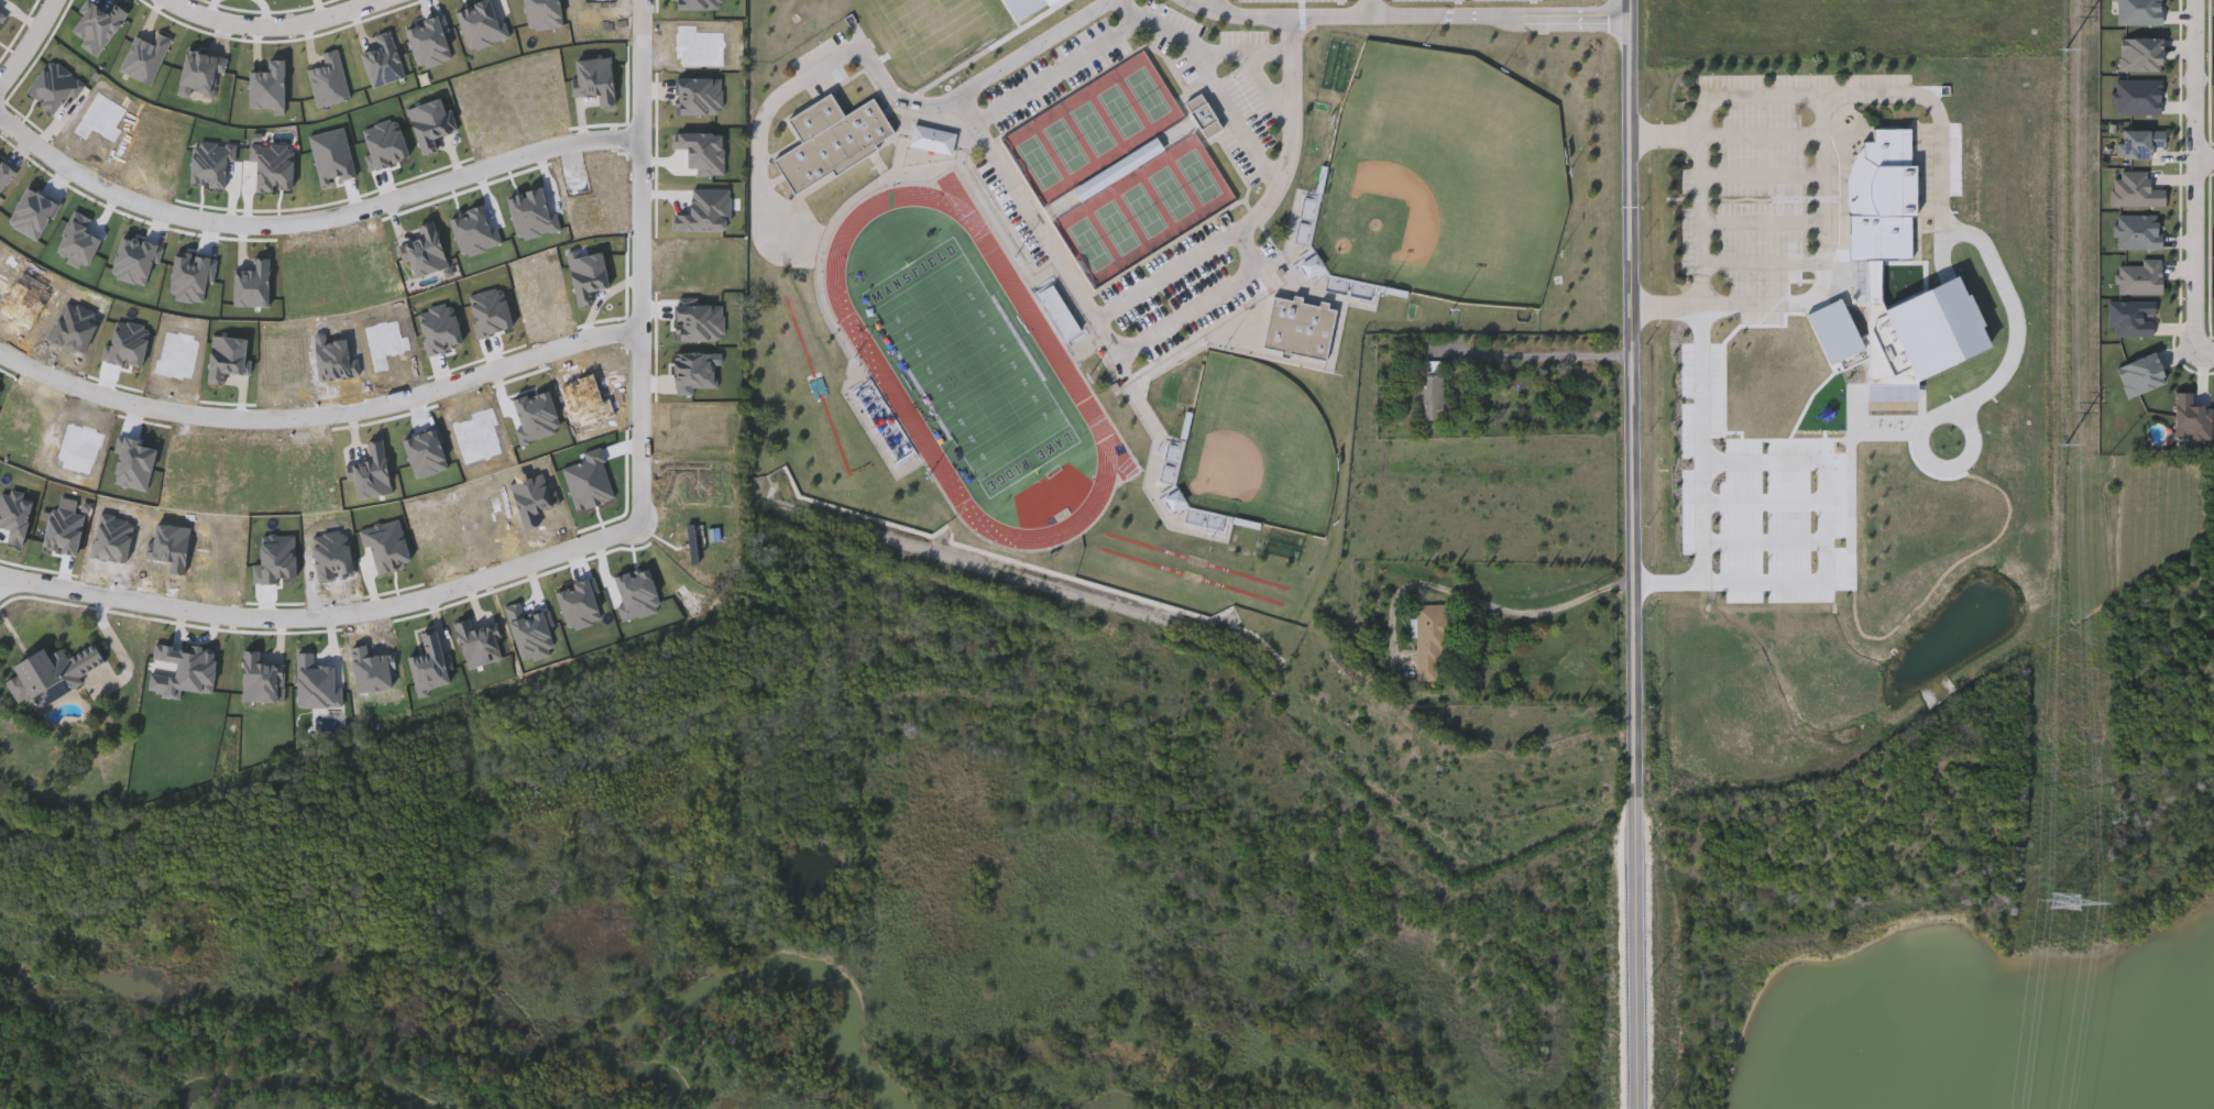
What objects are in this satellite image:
road: (1210, 6)
road: (1372, 8)
road: (1406, 15)
road: (275, 28)
road: (1203, 44)
road: (31, 45)
power tower: (2068, 48)
road: (1064, 70)
road: (878, 73)
road: (1270, 90)
park: (1148, 94)
park: (1120, 110)
road: (1235, 114)
building: (822, 125)
park: (1094, 127)
road: (1764, 136)
park: (1066, 143)
road: (2204, 154)
park: (1039, 161)
road: (2195, 173)
road: (1826, 174)
park: (1198, 175)
road: (1764, 176)
park: (1444, 178)
building: (1886, 183)
park: (1172, 191)
park: (1144, 209)
road: (1261, 212)
road: (1703, 219)
road: (313, 221)
road: (1764, 222)
park: (1117, 226)
road: (1954, 226)
road: (1042, 234)
park: (1090, 243)
road: (640, 262)
road: (1764, 263)
road: (1212, 300)
building: (1301, 331)
road: (2210, 347)
road: (1541, 358)
park: (971, 365)
track: (881, 371)
building: (1434, 399)
road: (320, 417)
road: (1921, 438)
power tower: (2064, 439)
park: (1258, 448)
road: (1703, 474)
road: (1765, 499)
road: (1828, 518)
road: (1766, 540)
building: (296, 554)
road: (1633, 554)
building: (265, 592)
road: (1508, 610)
road: (325, 615)
building: (1434, 645)
building: (51, 673)
power tower: (2068, 898)

